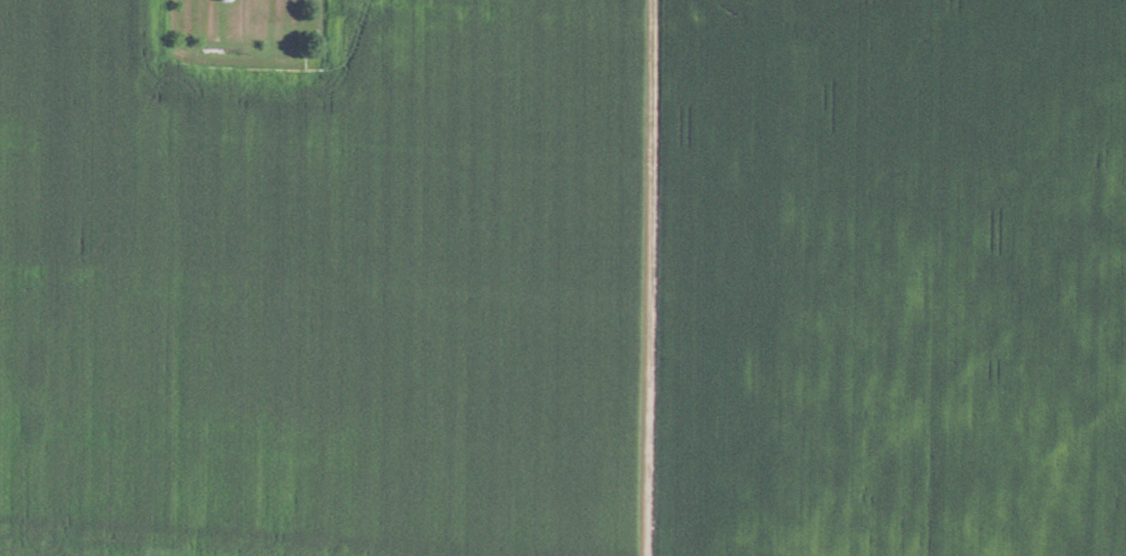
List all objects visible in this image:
road: (647, 278)

